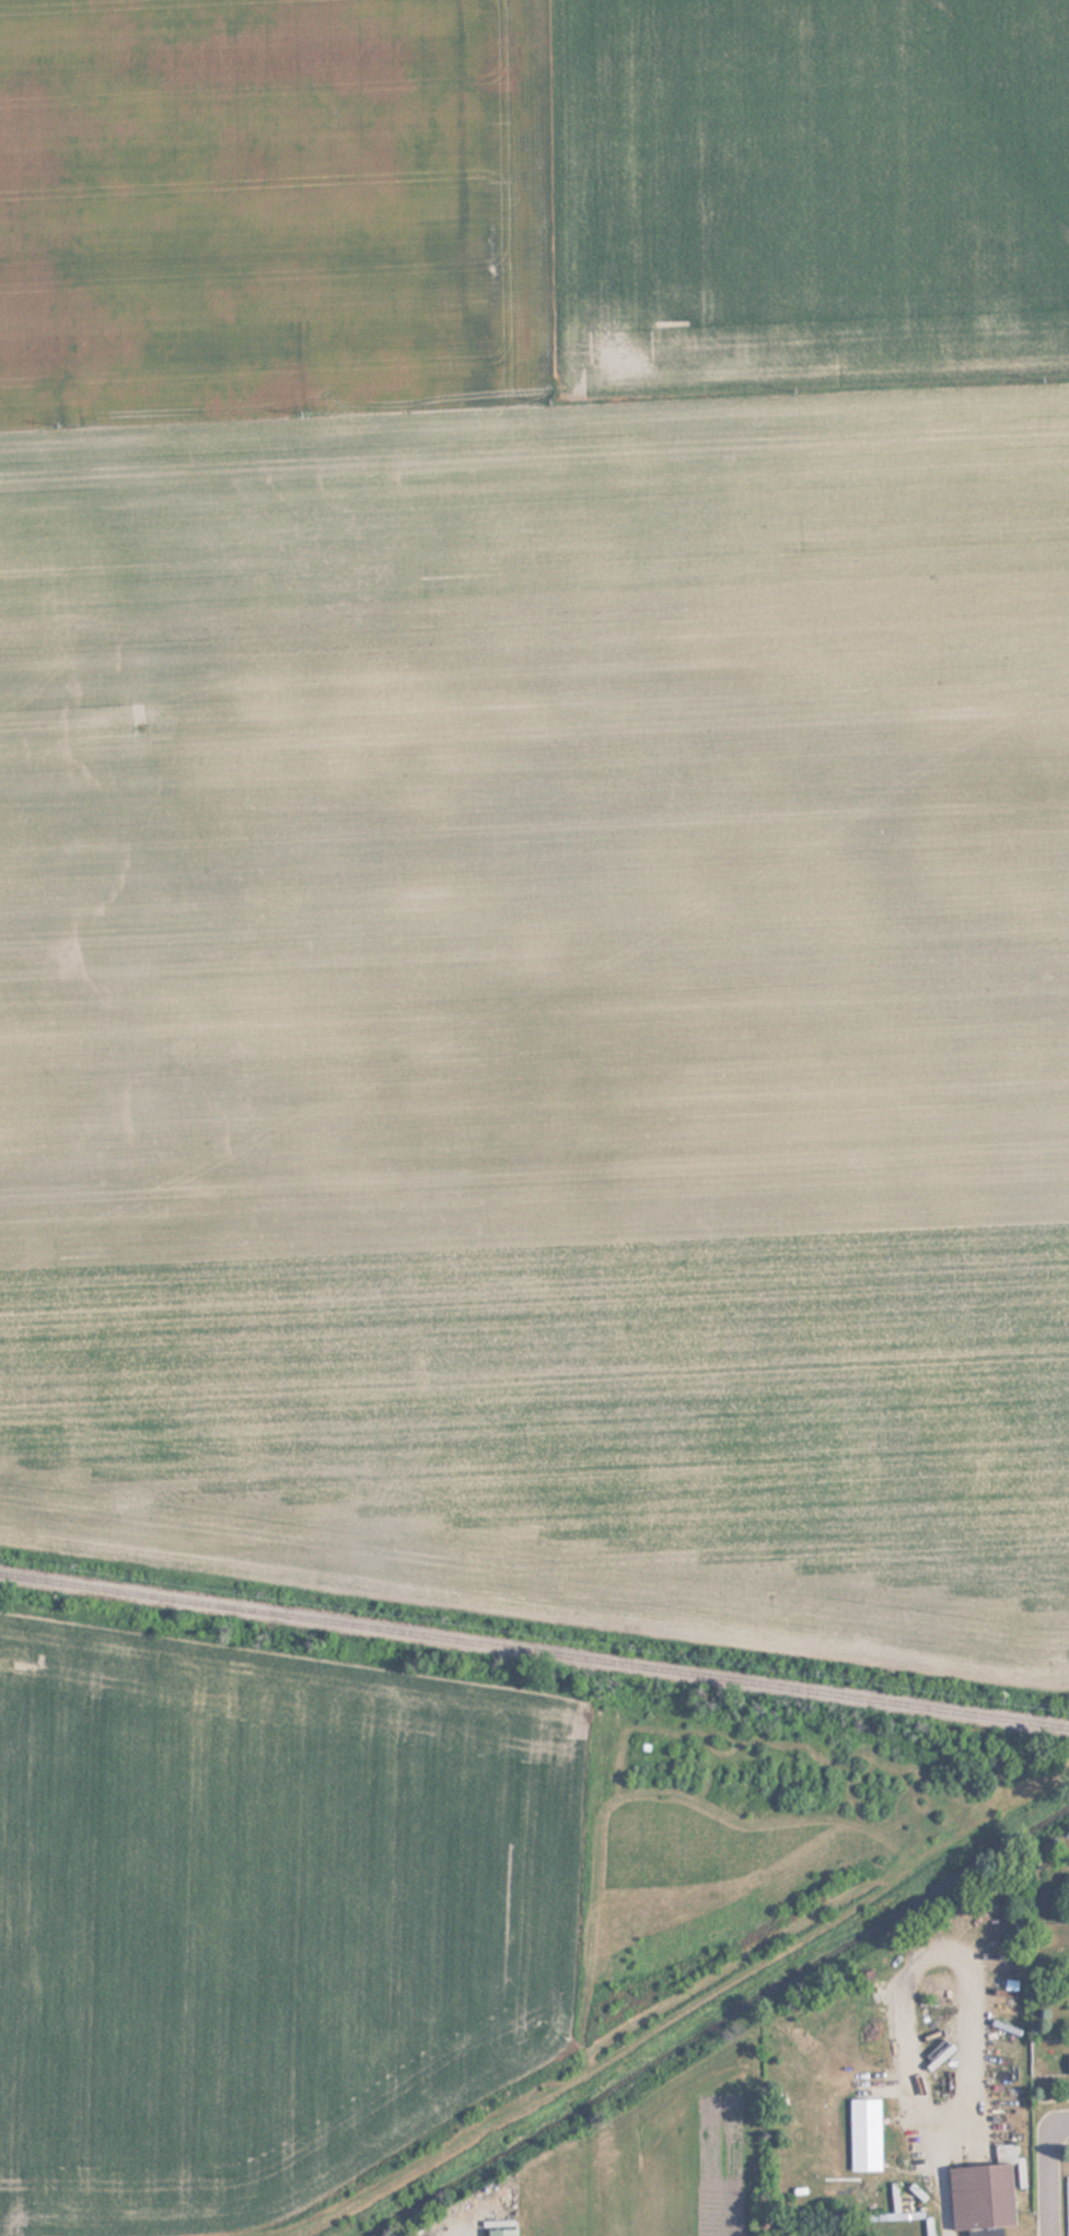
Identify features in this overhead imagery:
railway: (534, 1653)
building: (1067, 2064)
road: (1060, 2099)
road: (1061, 2121)
road: (1058, 2141)
road: (1048, 2178)
building: (981, 2192)
building: (498, 2232)

